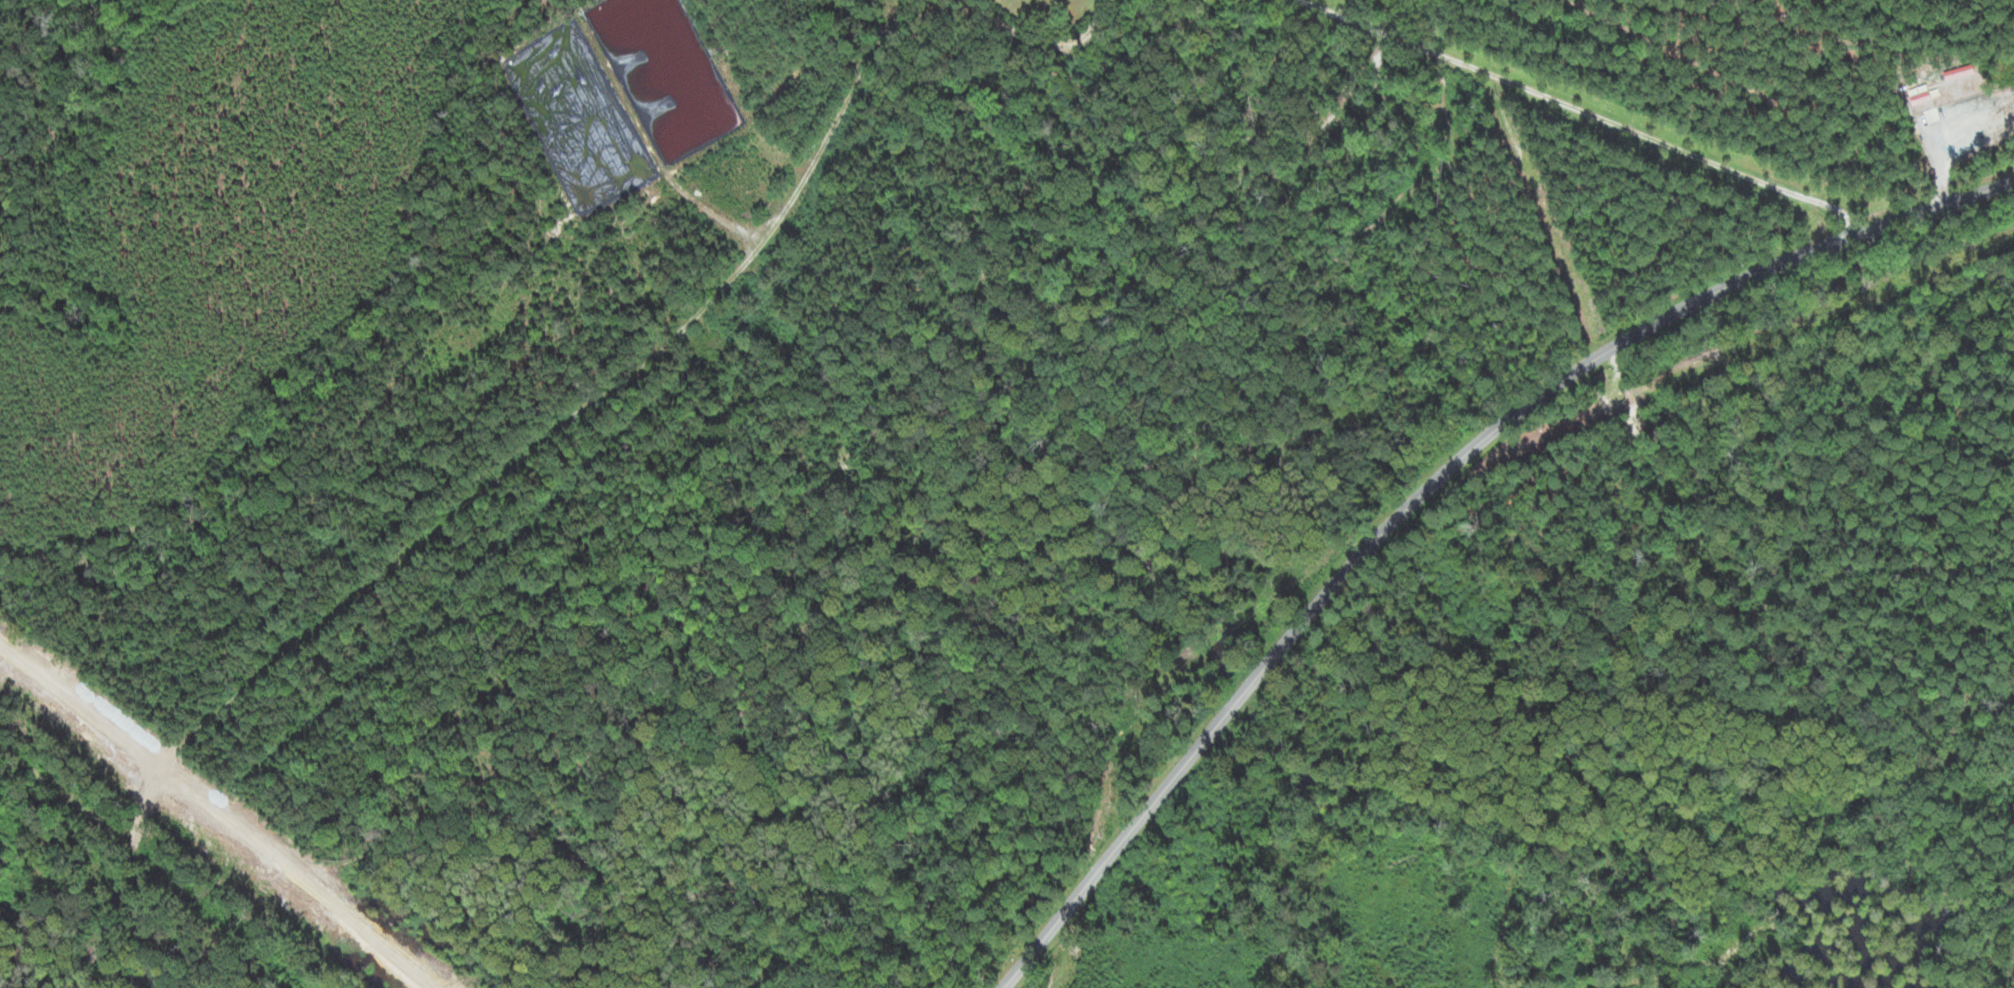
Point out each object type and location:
road: (1429, 477)

